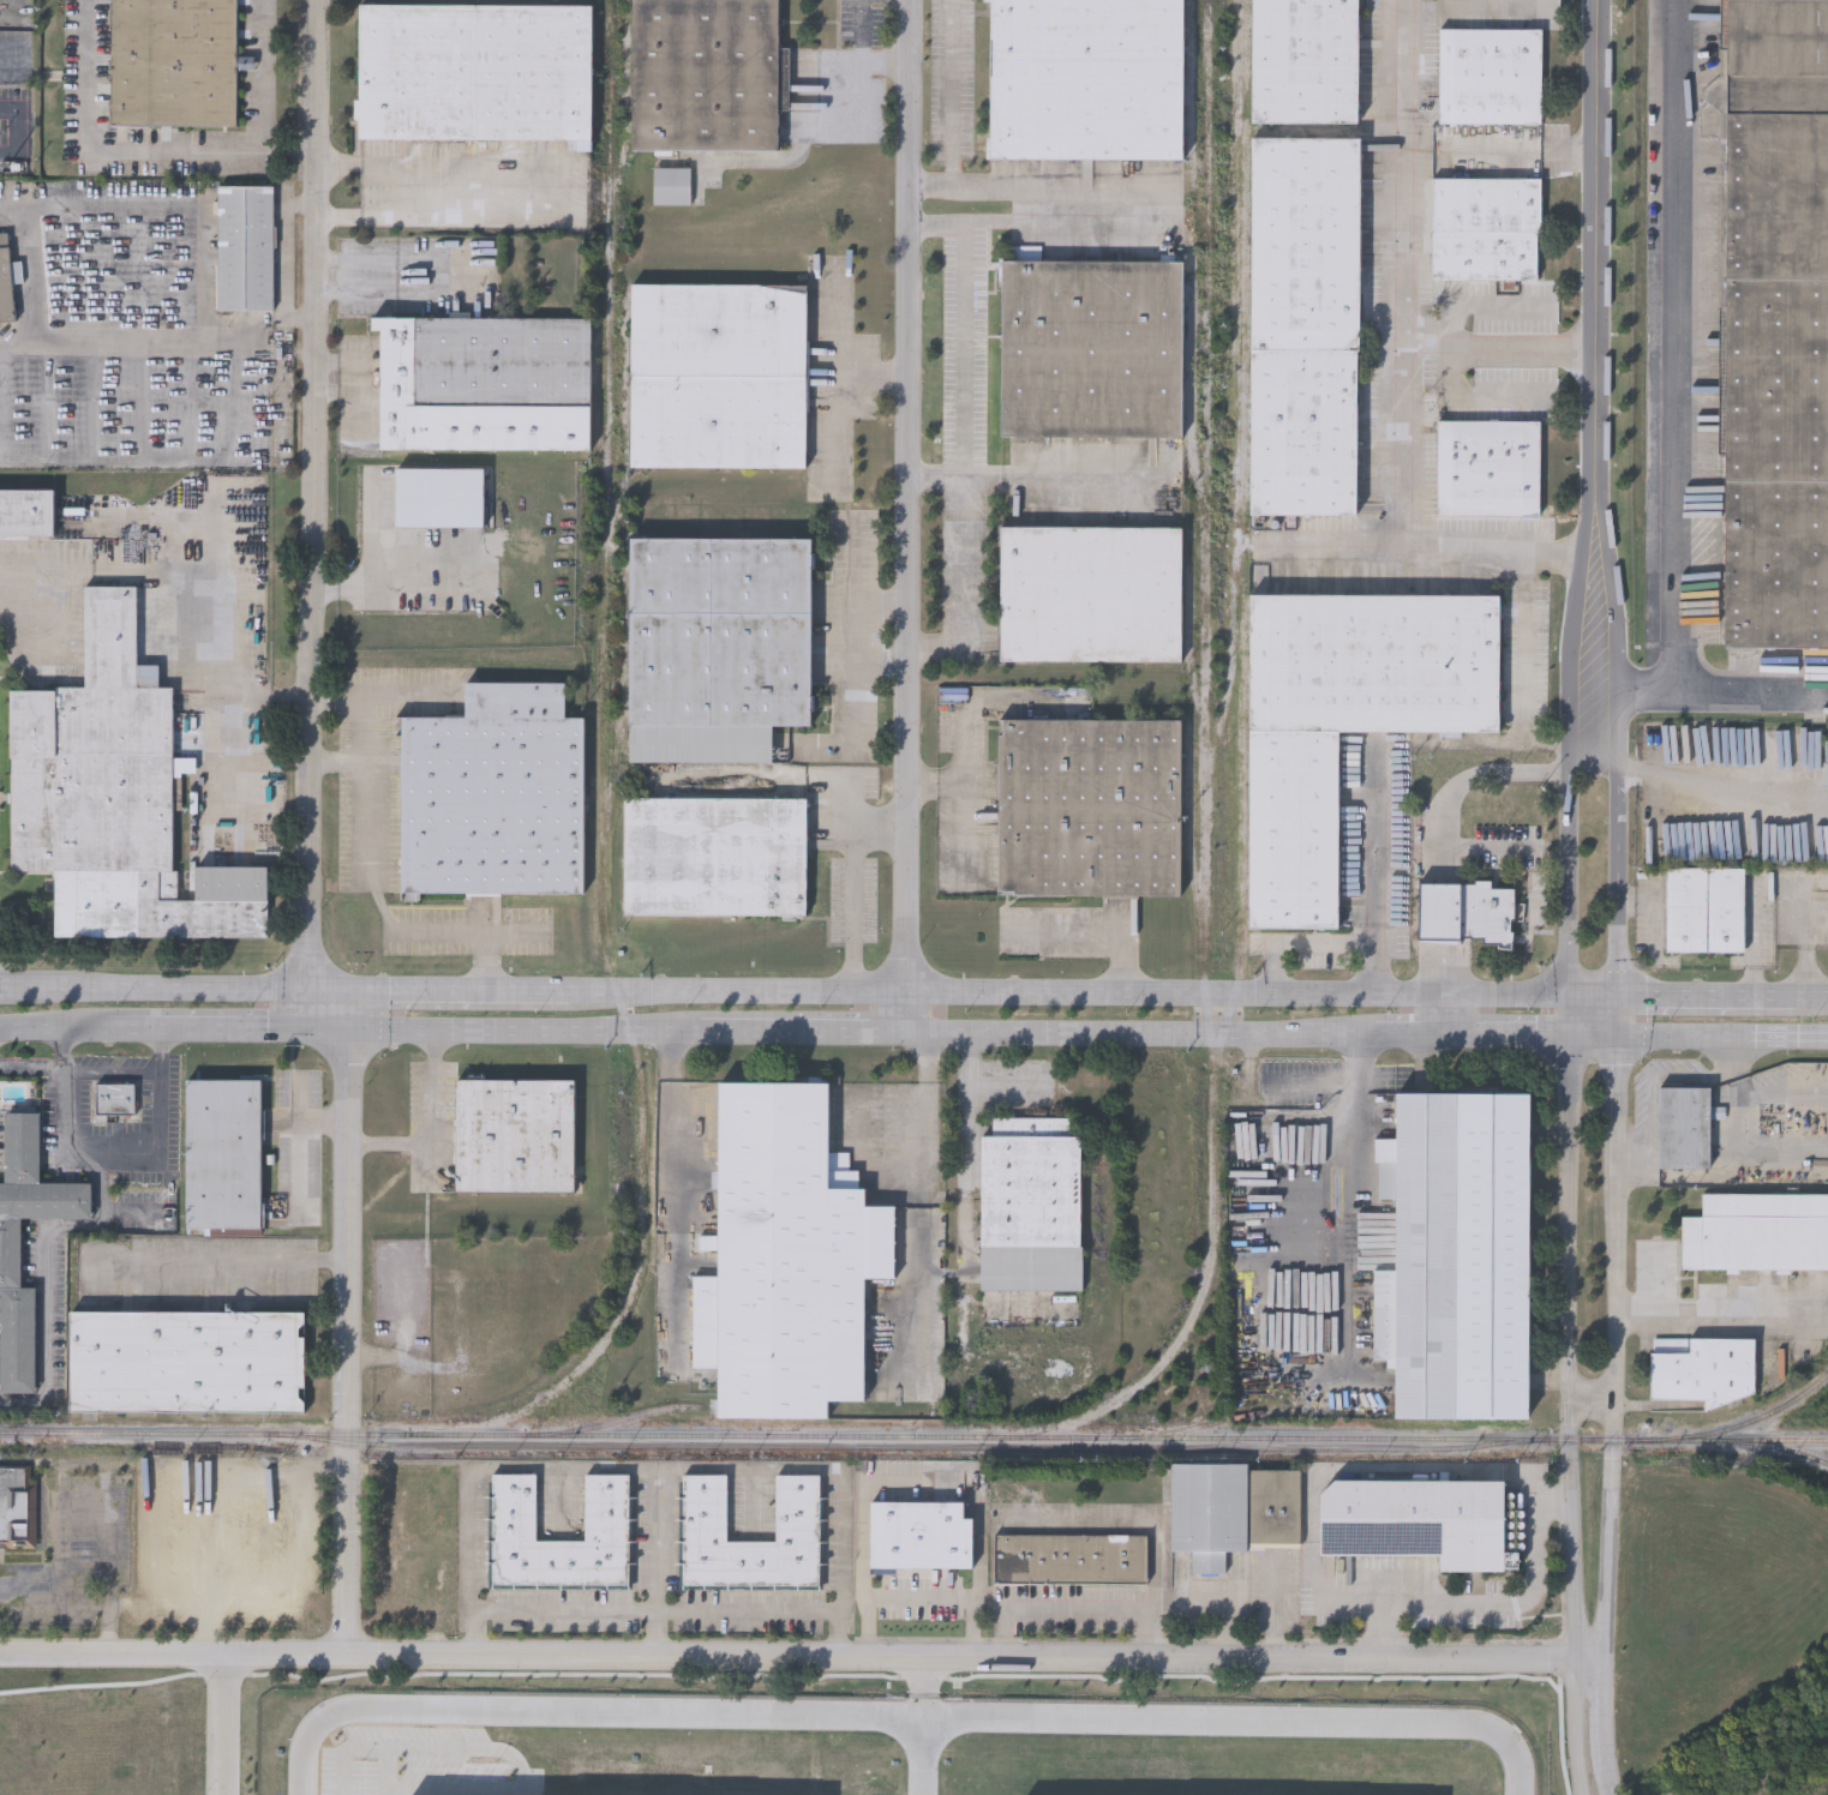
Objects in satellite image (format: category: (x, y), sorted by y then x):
road: (865, 32)
building: (1303, 60)
building: (172, 61)
road: (862, 66)
building: (473, 70)
building: (706, 73)
road: (262, 74)
building: (1490, 74)
building: (1083, 78)
road: (951, 108)
road: (10, 130)
road: (125, 146)
road: (1404, 173)
building: (672, 184)
road: (424, 198)
road: (184, 208)
road: (368, 215)
road: (1067, 226)
building: (1484, 227)
building: (244, 246)
road: (31, 262)
road: (439, 274)
road: (1598, 278)
building: (5, 282)
road: (1479, 305)
building: (1302, 324)
building: (1775, 324)
road: (845, 331)
road: (132, 343)
building: (1089, 344)
road: (1677, 346)
building: (717, 373)
building: (483, 380)
road: (844, 394)
road: (1474, 396)
road: (276, 398)
road: (186, 401)
road: (94, 402)
road: (140, 402)
road: (236, 402)
road: (965, 436)
road: (1407, 443)
building: (1487, 466)
road: (941, 479)
road: (1066, 480)
building: (439, 497)
building: (26, 511)
road: (918, 515)
road: (374, 557)
road: (859, 563)
road: (422, 570)
road: (197, 580)
building: (1089, 593)
road: (1580, 624)
road: (858, 631)
building: (715, 644)
road: (1522, 667)
road: (1701, 692)
road: (858, 697)
road: (314, 704)
building: (1344, 719)
road: (232, 748)
building: (1826, 761)
road: (340, 763)
road: (964, 768)
road: (1469, 778)
road: (1721, 782)
building: (492, 792)
building: (112, 796)
building: (1087, 805)
building: (1469, 827)
water tower: (1487, 828)
road: (964, 838)
road: (1571, 839)
road: (1377, 846)
building: (713, 854)
road: (370, 869)
road: (861, 883)
building: (1704, 908)
building: (1449, 914)
road: (1653, 918)
road: (1095, 930)
road: (1754, 935)
road: (1305, 944)
road: (1377, 955)
road: (4, 984)
road: (162, 985)
road: (443, 987)
road: (1069, 987)
road: (1595, 987)
road: (1707, 989)
road: (1811, 991)
road: (1444, 1008)
road: (1571, 1010)
road: (807, 1029)
road: (513, 1032)
road: (1412, 1032)
road: (221, 1033)
road: (1146, 1033)
road: (1508, 1033)
road: (55, 1035)
road: (1698, 1037)
road: (32, 1067)
road: (112, 1071)
road: (1654, 1080)
road: (1772, 1093)
building: (115, 1098)
road: (1617, 1105)
road: (307, 1119)
road: (857, 1123)
building: (1684, 1128)
road: (434, 1134)
building: (514, 1134)
road: (161, 1142)
road: (1333, 1151)
building: (223, 1152)
road: (1724, 1172)
road: (970, 1190)
road: (675, 1194)
road: (913, 1206)
building: (1030, 1211)
road: (70, 1225)
building: (1757, 1232)
building: (11, 1251)
building: (789, 1254)
building: (1455, 1255)
road: (223, 1261)
road: (1718, 1314)
road: (1568, 1349)
building: (185, 1361)
building: (1702, 1370)
road: (1590, 1397)
railway: (1247, 1413)
railway: (625, 1416)
railway: (1750, 1422)
railway: (215, 1433)
railway: (1128, 1436)
railway: (907, 1445)
railway: (1780, 1449)
road: (658, 1470)
building: (426, 1506)
building: (605, 1506)
building: (705, 1506)
building: (17, 1507)
building: (1231, 1509)
building: (1414, 1520)
building: (226, 1535)
building: (918, 1535)
building: (1069, 1557)
road: (657, 1562)
road: (922, 1596)
road: (563, 1597)
road: (748, 1598)
road: (1227, 1603)
road: (1074, 1607)
road: (1275, 1607)
road: (1494, 1607)
road: (787, 1657)
road: (1604, 1658)
road: (1589, 1662)
road: (905, 1711)
road: (1604, 1716)
road: (221, 1723)
road: (391, 1724)
road: (927, 1727)
road: (1575, 1729)
building: (200, 1749)
building: (1396, 1759)
road: (1607, 1782)

